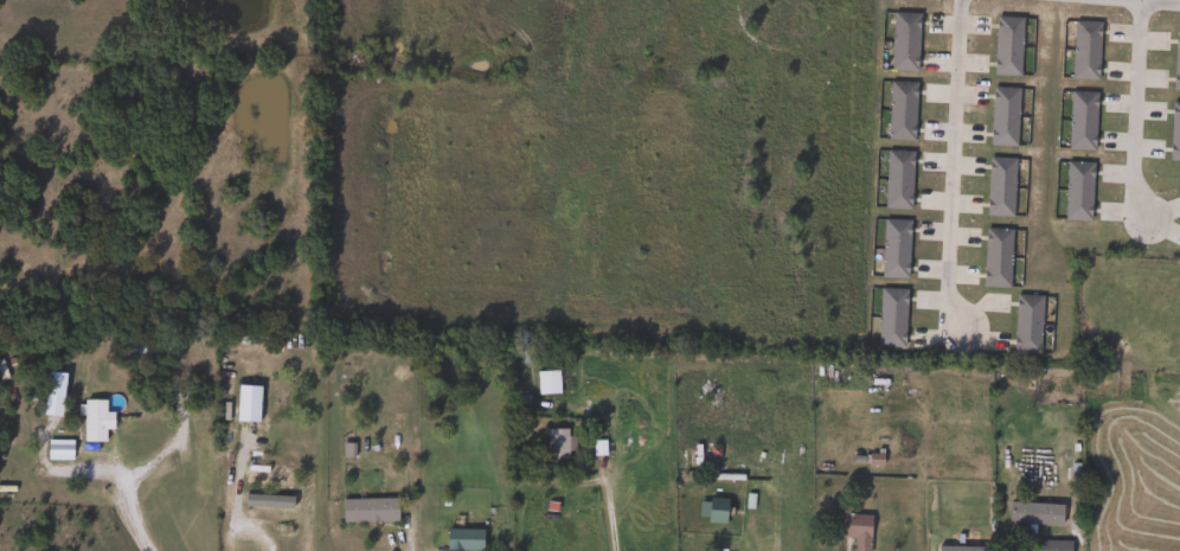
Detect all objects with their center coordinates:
road: (1152, 1)
building: (902, 41)
building: (1005, 46)
building: (1083, 50)
building: (1175, 62)
road: (1133, 109)
building: (898, 111)
building: (1001, 116)
building: (1079, 121)
building: (1173, 132)
road: (408, 148)
road: (592, 154)
road: (763, 159)
road: (948, 164)
building: (896, 180)
building: (998, 186)
building: (1075, 191)
building: (892, 249)
building: (994, 258)
building: (889, 318)
building: (1025, 325)
building: (1088, 361)
building: (545, 383)
building: (90, 422)
building: (554, 446)
building: (56, 450)
road: (140, 467)
building: (265, 475)
building: (366, 511)
building: (1032, 514)
road: (771, 519)
road: (242, 521)
road: (608, 521)
building: (849, 527)
building: (462, 540)
building: (957, 544)
building: (1050, 546)

